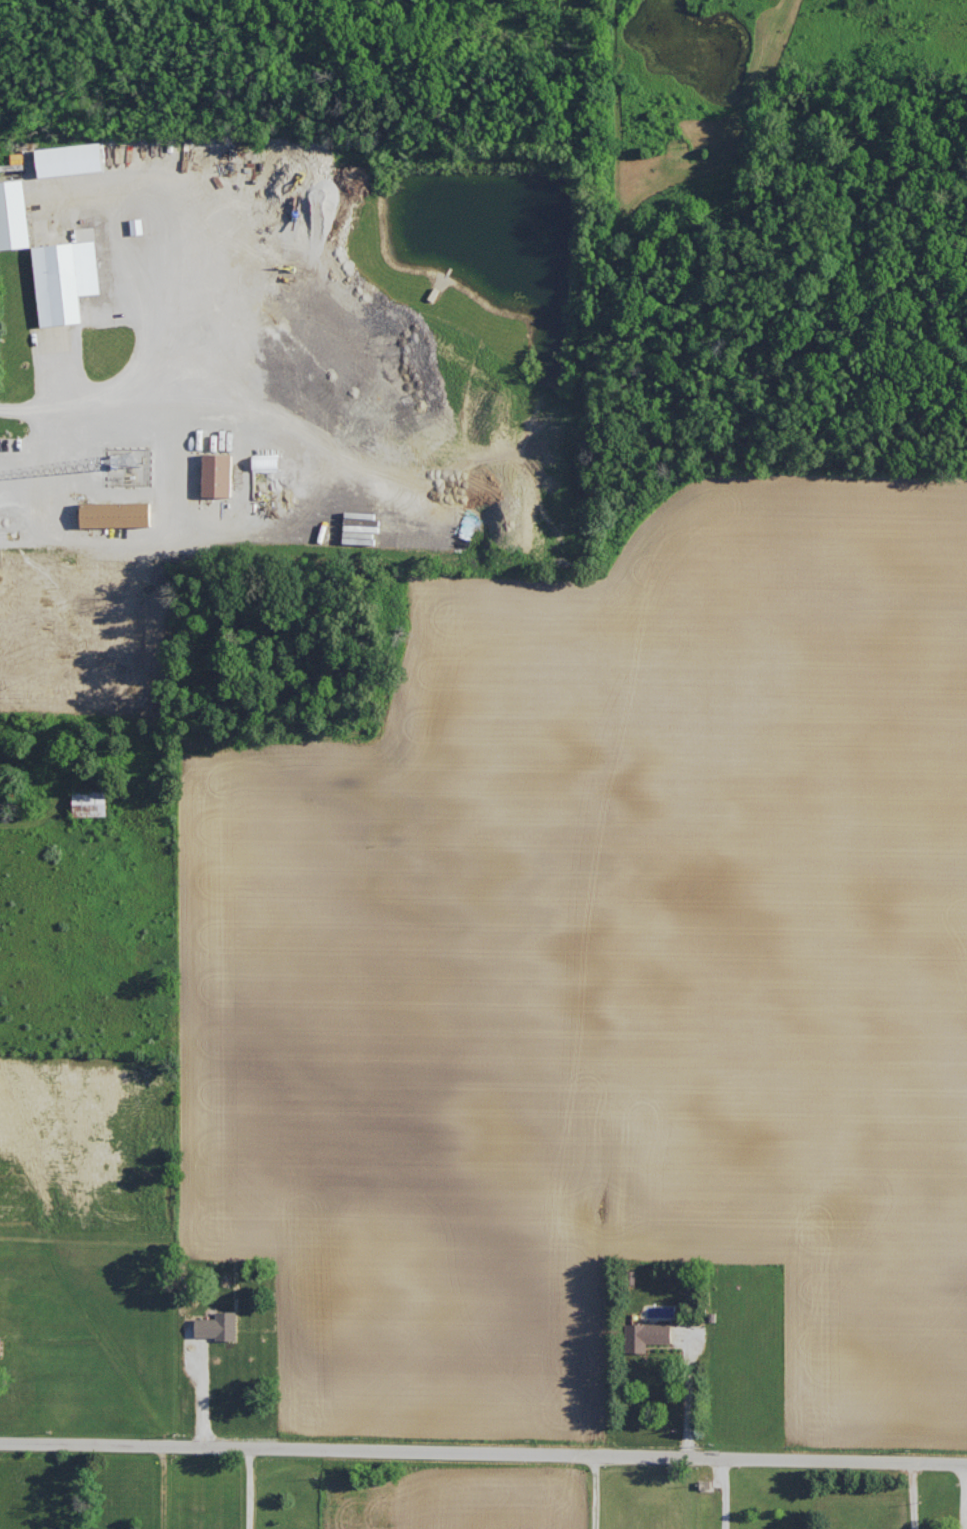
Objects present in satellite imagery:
building: (68, 159)
building: (13, 214)
building: (64, 279)
road: (121, 404)
building: (265, 462)
building: (216, 474)
building: (114, 514)
road: (41, 540)
building: (89, 802)
building: (216, 1325)
building: (645, 1334)
building: (0, 1342)
road: (204, 1394)
road: (688, 1399)
road: (483, 1451)
road: (164, 1487)
road: (252, 1487)
road: (595, 1491)
road: (725, 1493)
road: (913, 1495)
road: (964, 1496)

